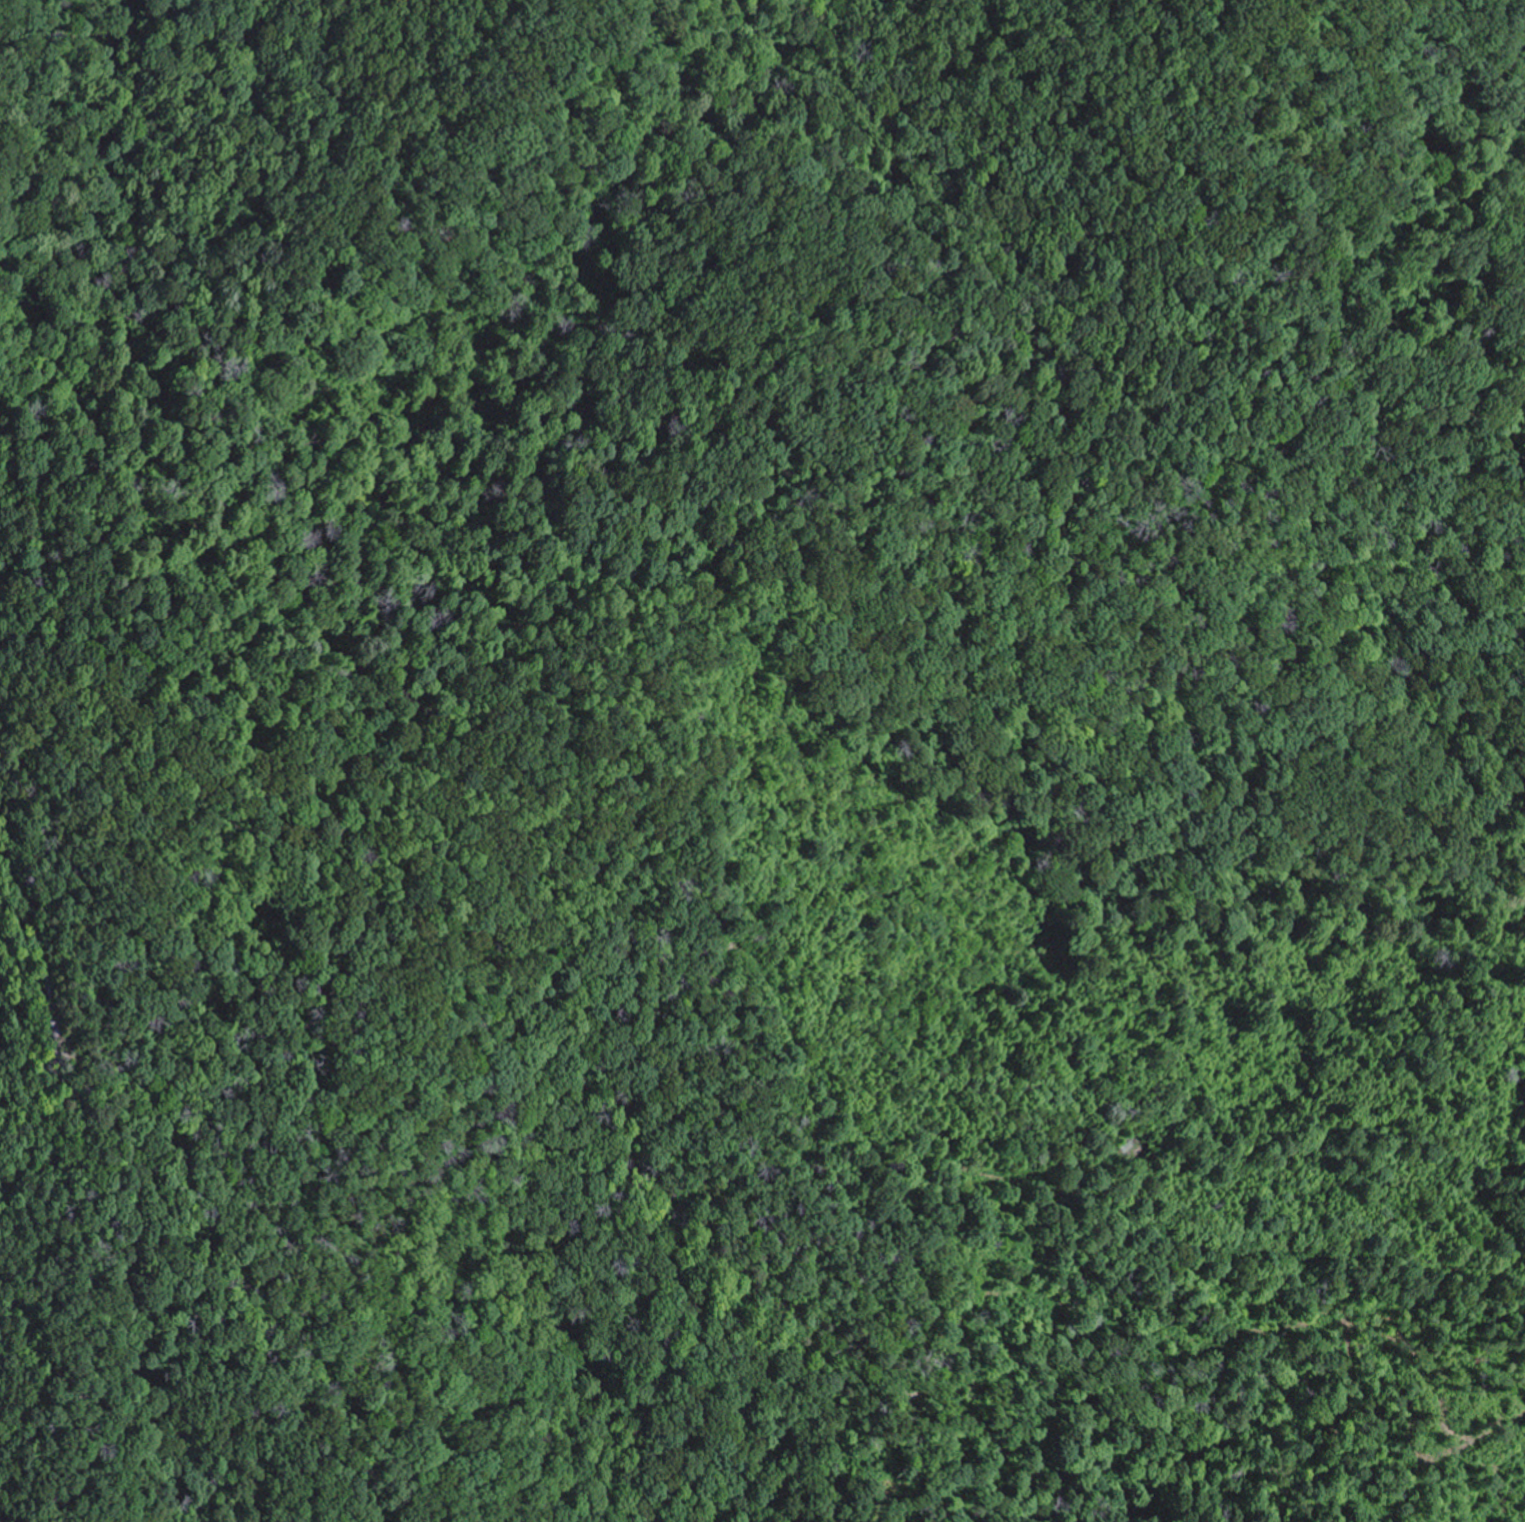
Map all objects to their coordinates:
road: (1400, 1325)

